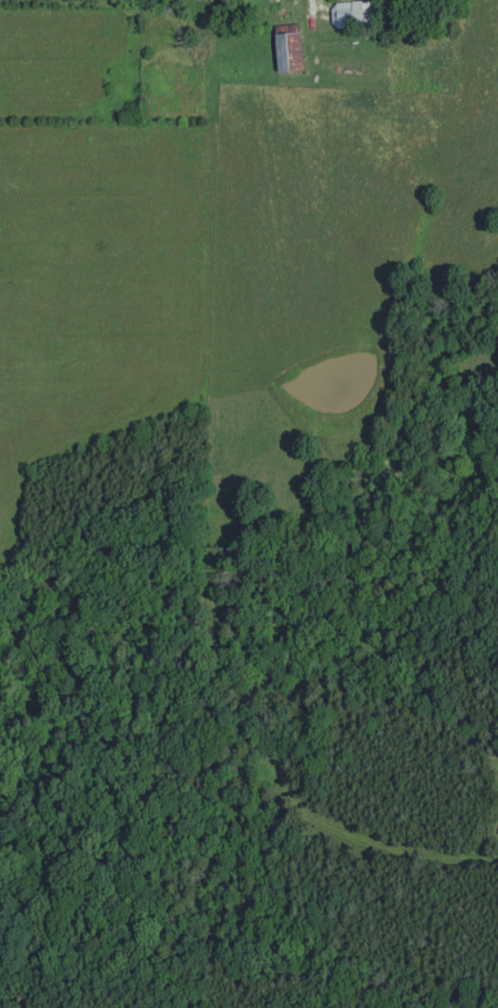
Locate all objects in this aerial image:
road: (324, 6)
building: (355, 14)
building: (291, 48)

